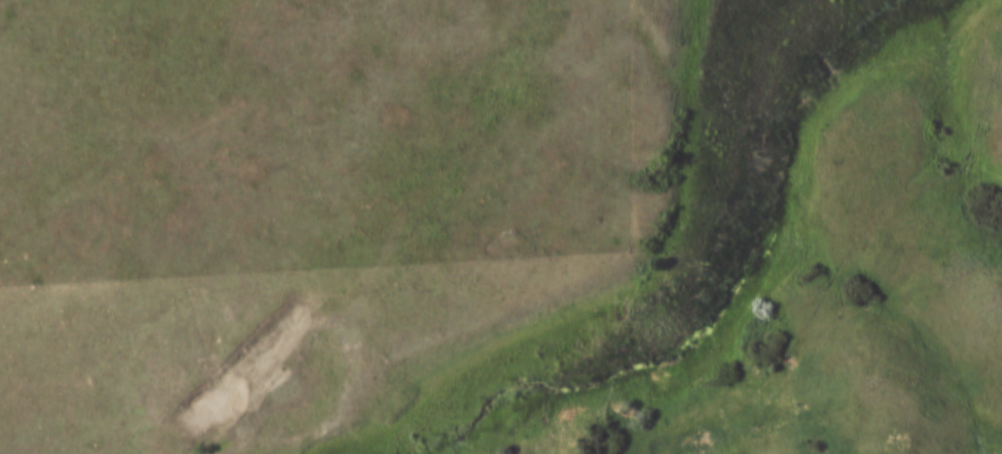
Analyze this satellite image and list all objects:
road: (408, 239)

